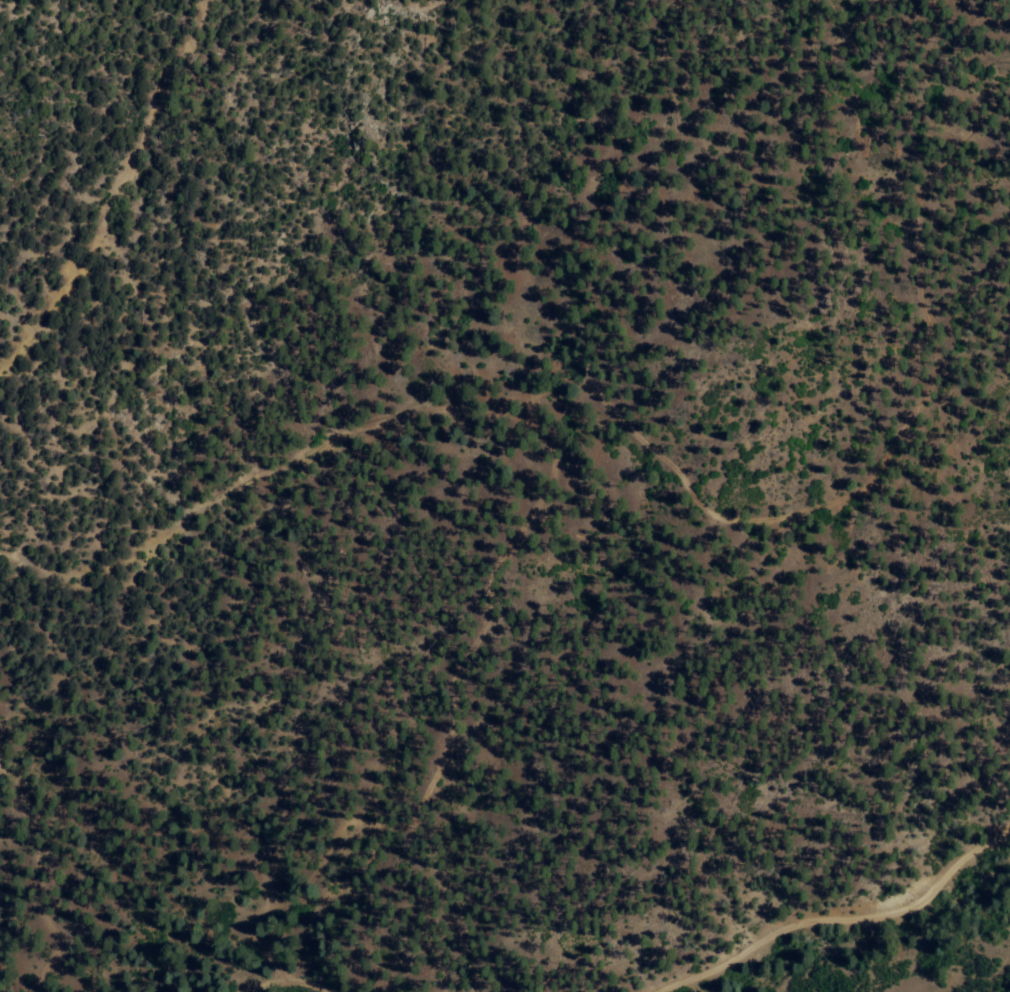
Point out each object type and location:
road: (140, 198)
road: (674, 459)
road: (567, 960)

